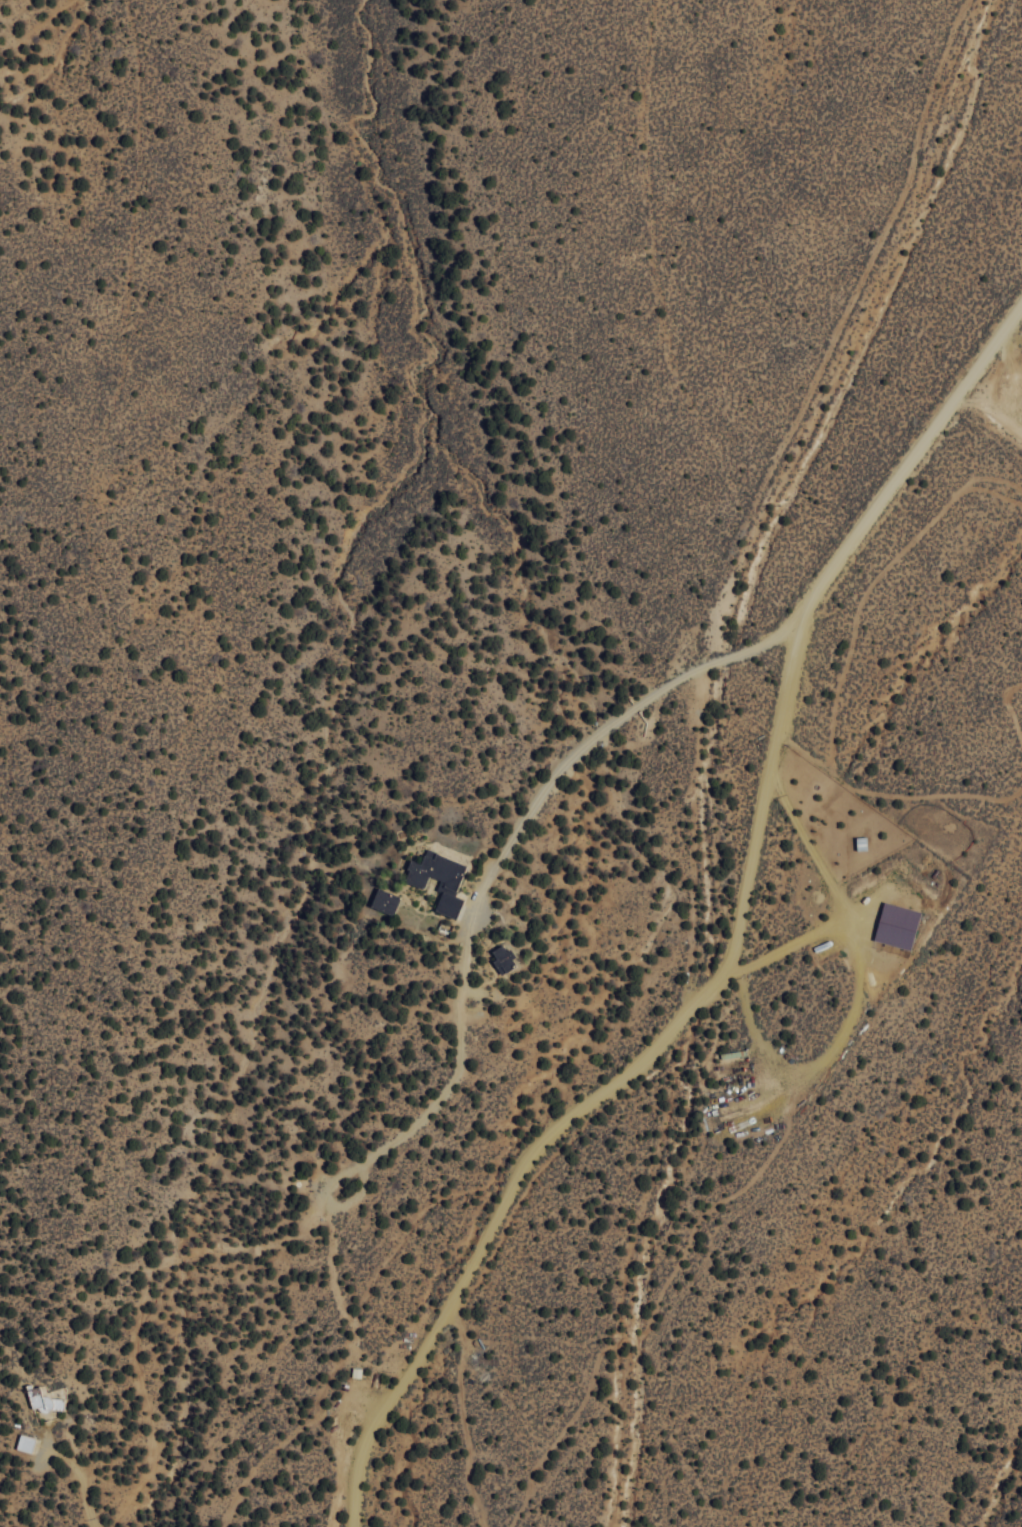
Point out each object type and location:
building: (384, 899)
building: (900, 932)
road: (734, 946)
building: (25, 1442)
road: (85, 1484)

